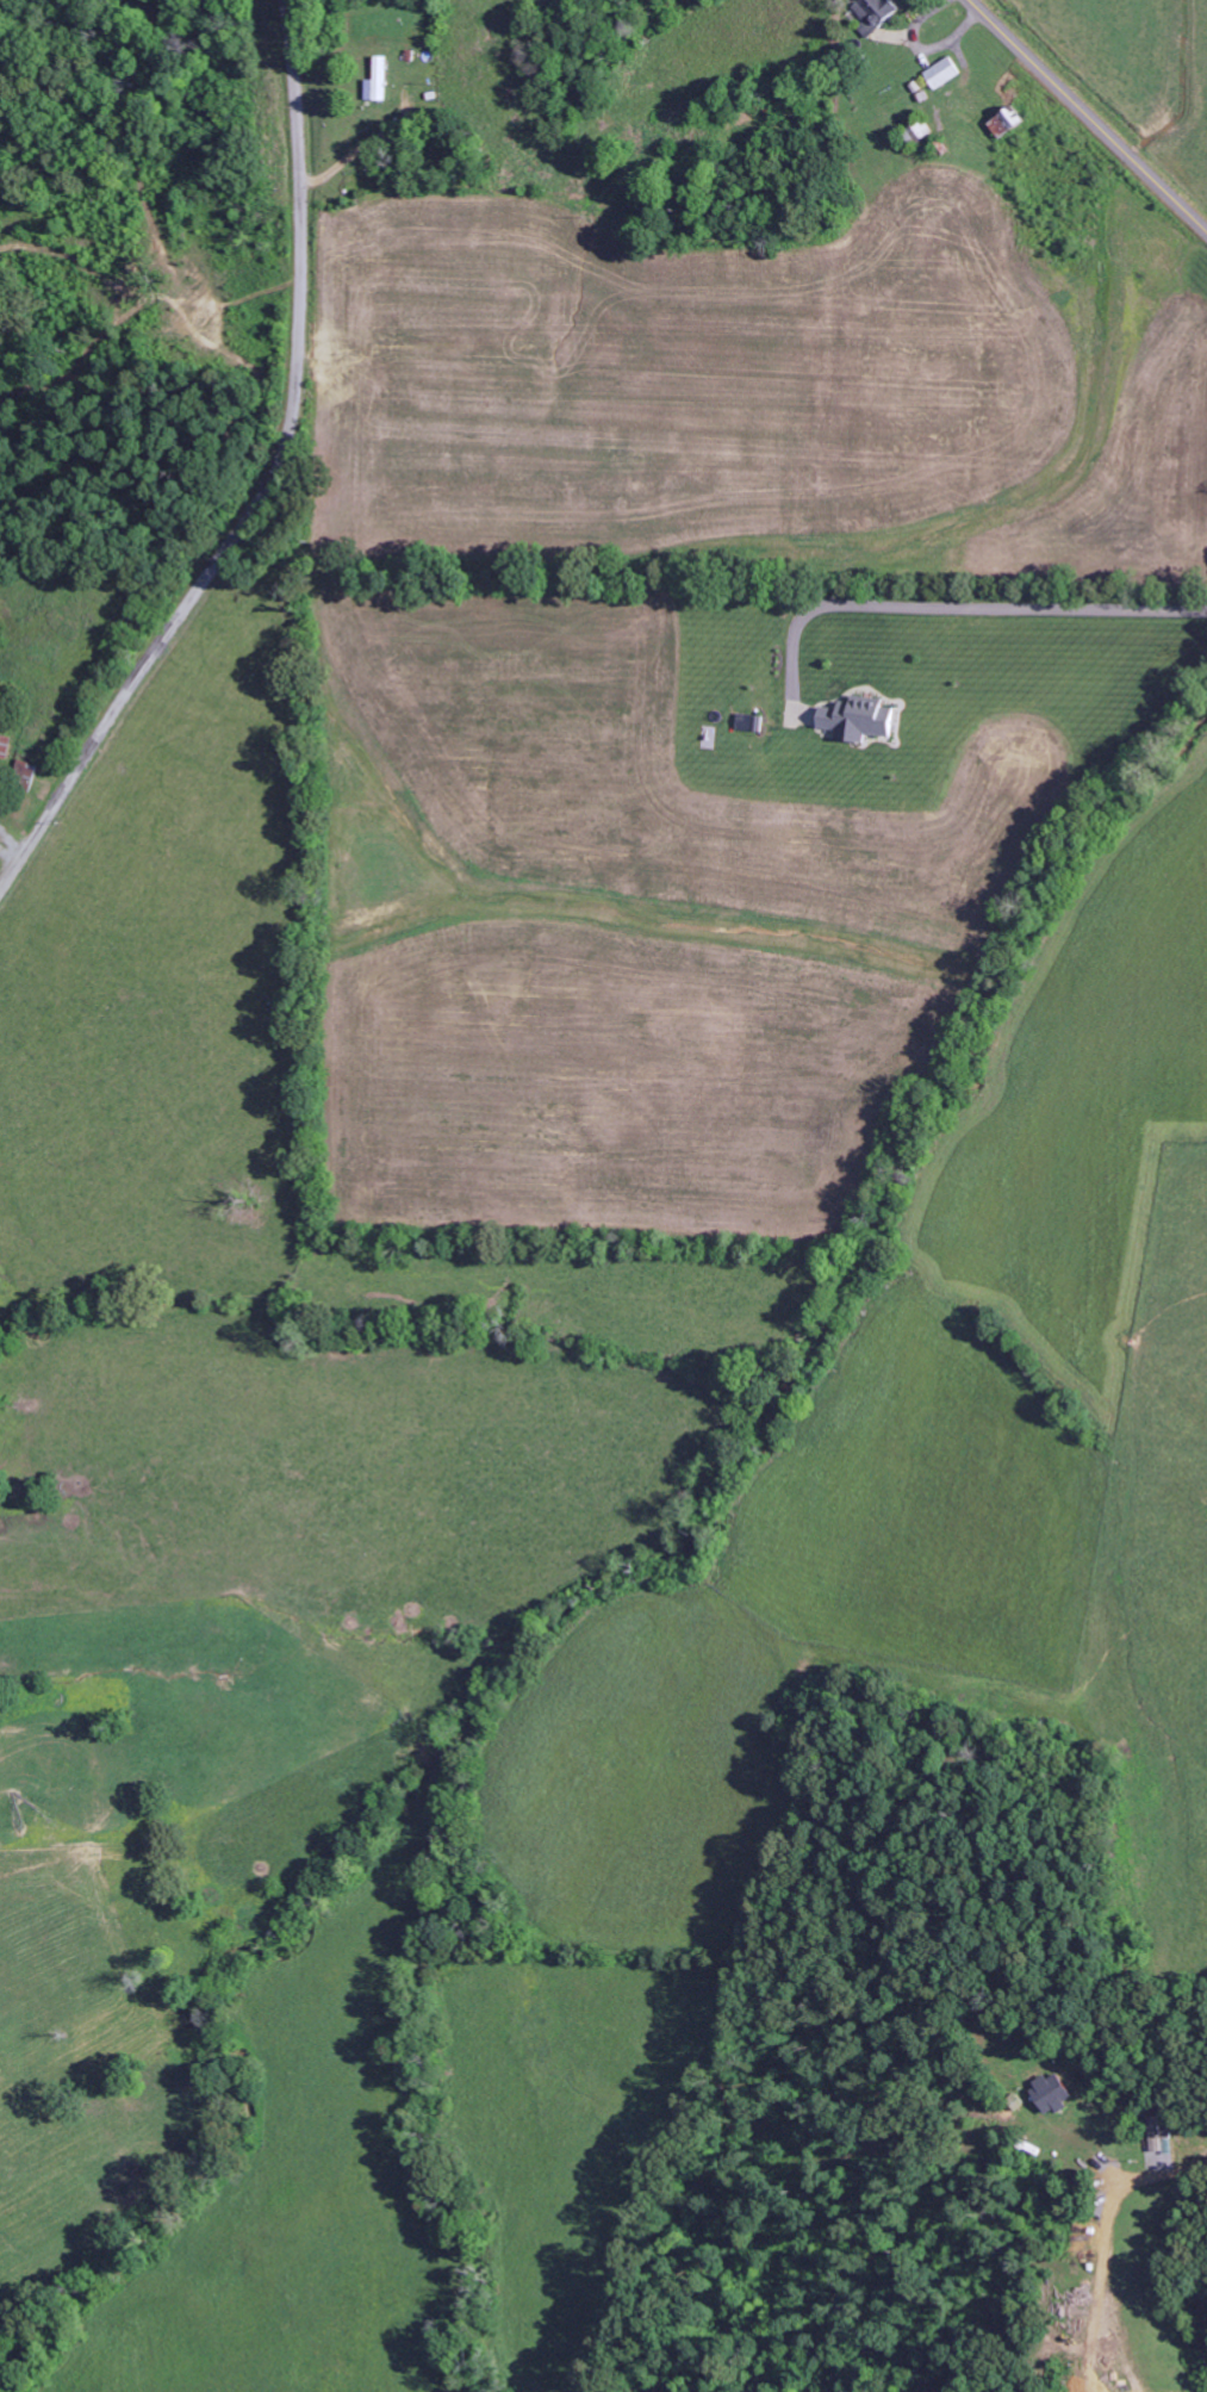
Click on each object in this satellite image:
building: (872, 14)
building: (941, 73)
building: (375, 81)
road: (1087, 117)
building: (1004, 122)
road: (269, 486)
building: (856, 719)
building: (4, 746)
building: (24, 775)
building: (1050, 2093)
building: (1157, 2137)

